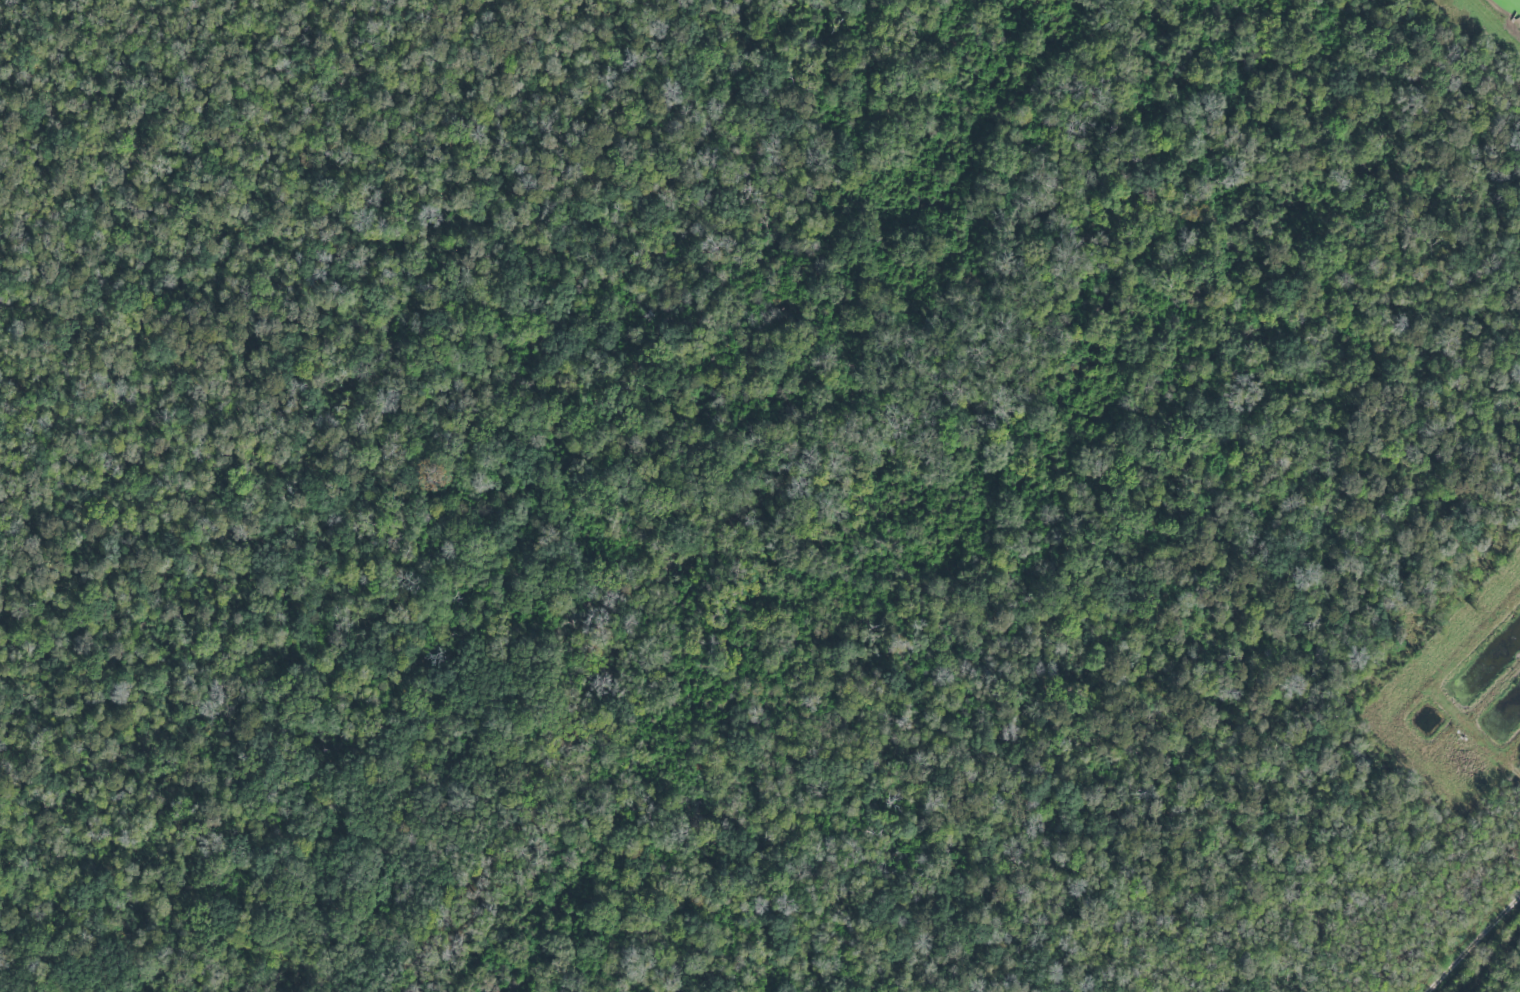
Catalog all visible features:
road: (1480, 730)
road: (1478, 948)

